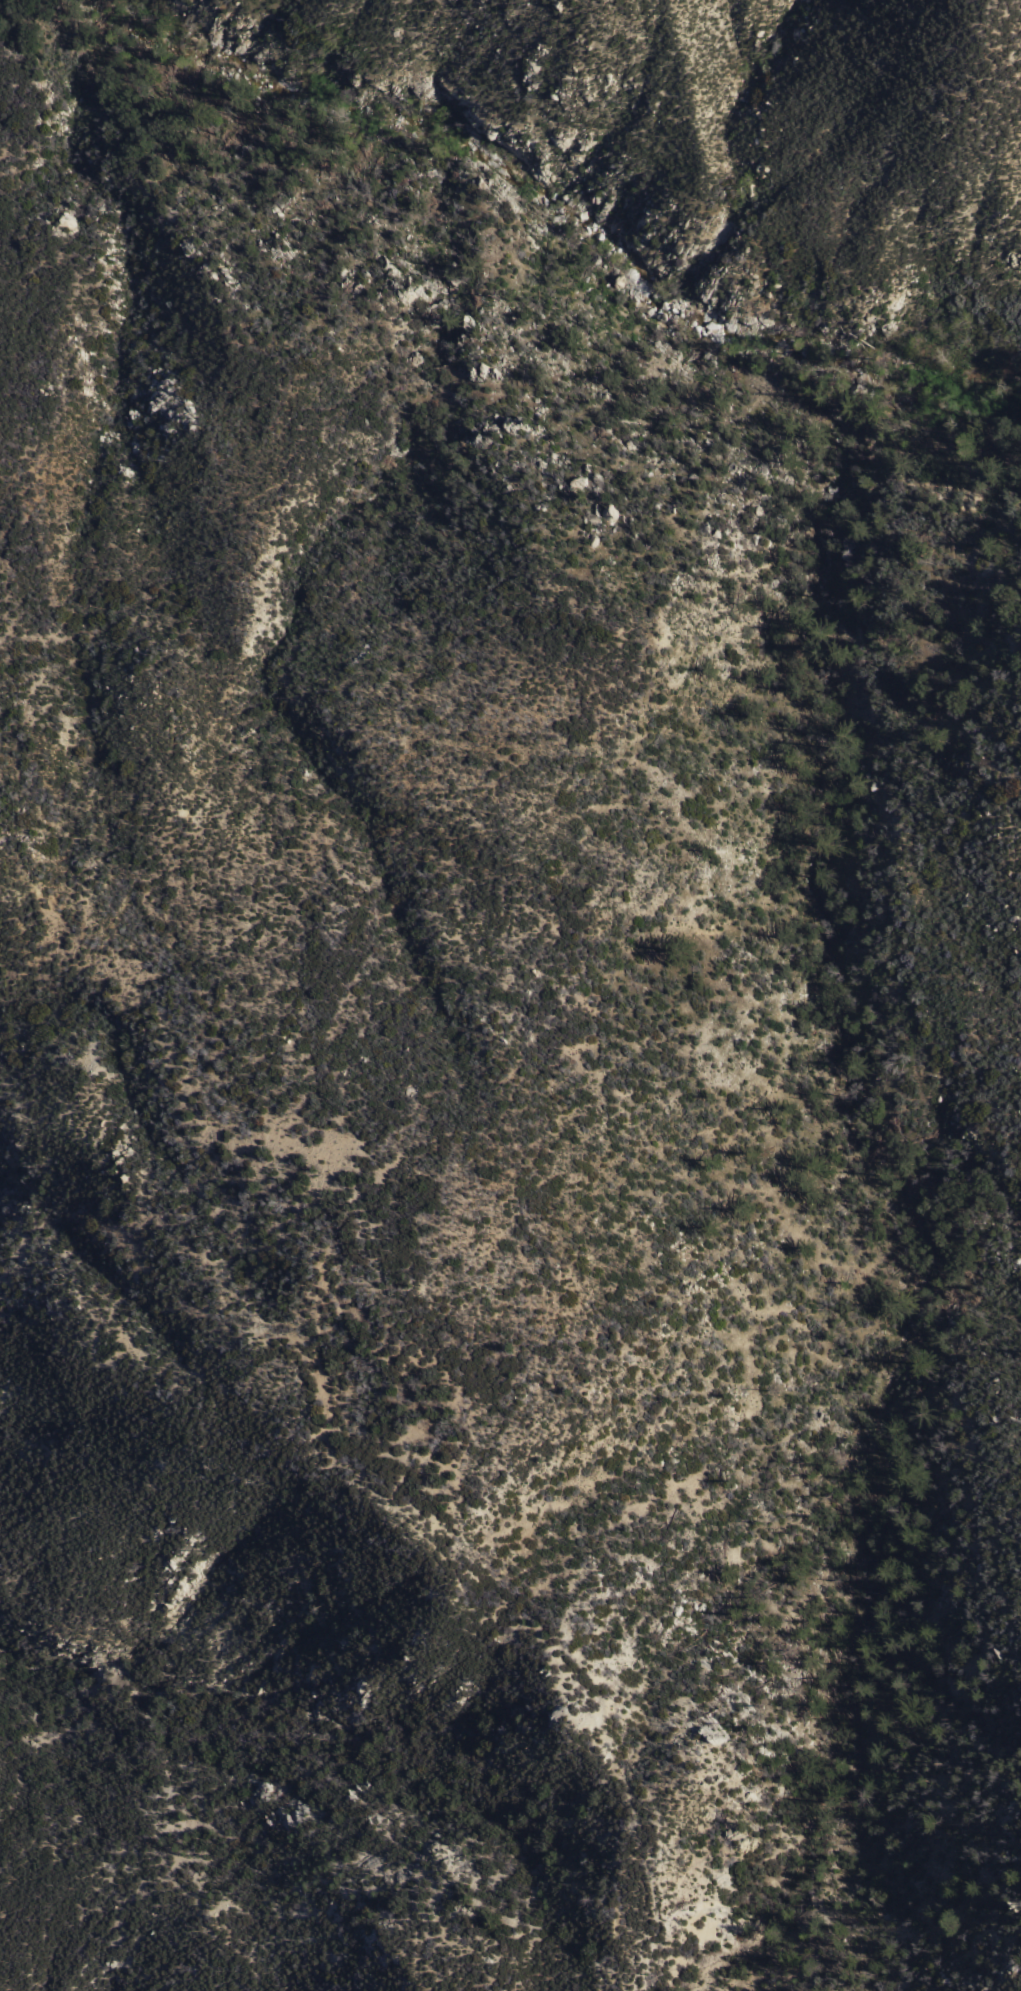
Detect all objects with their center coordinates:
river: (506, 243)

